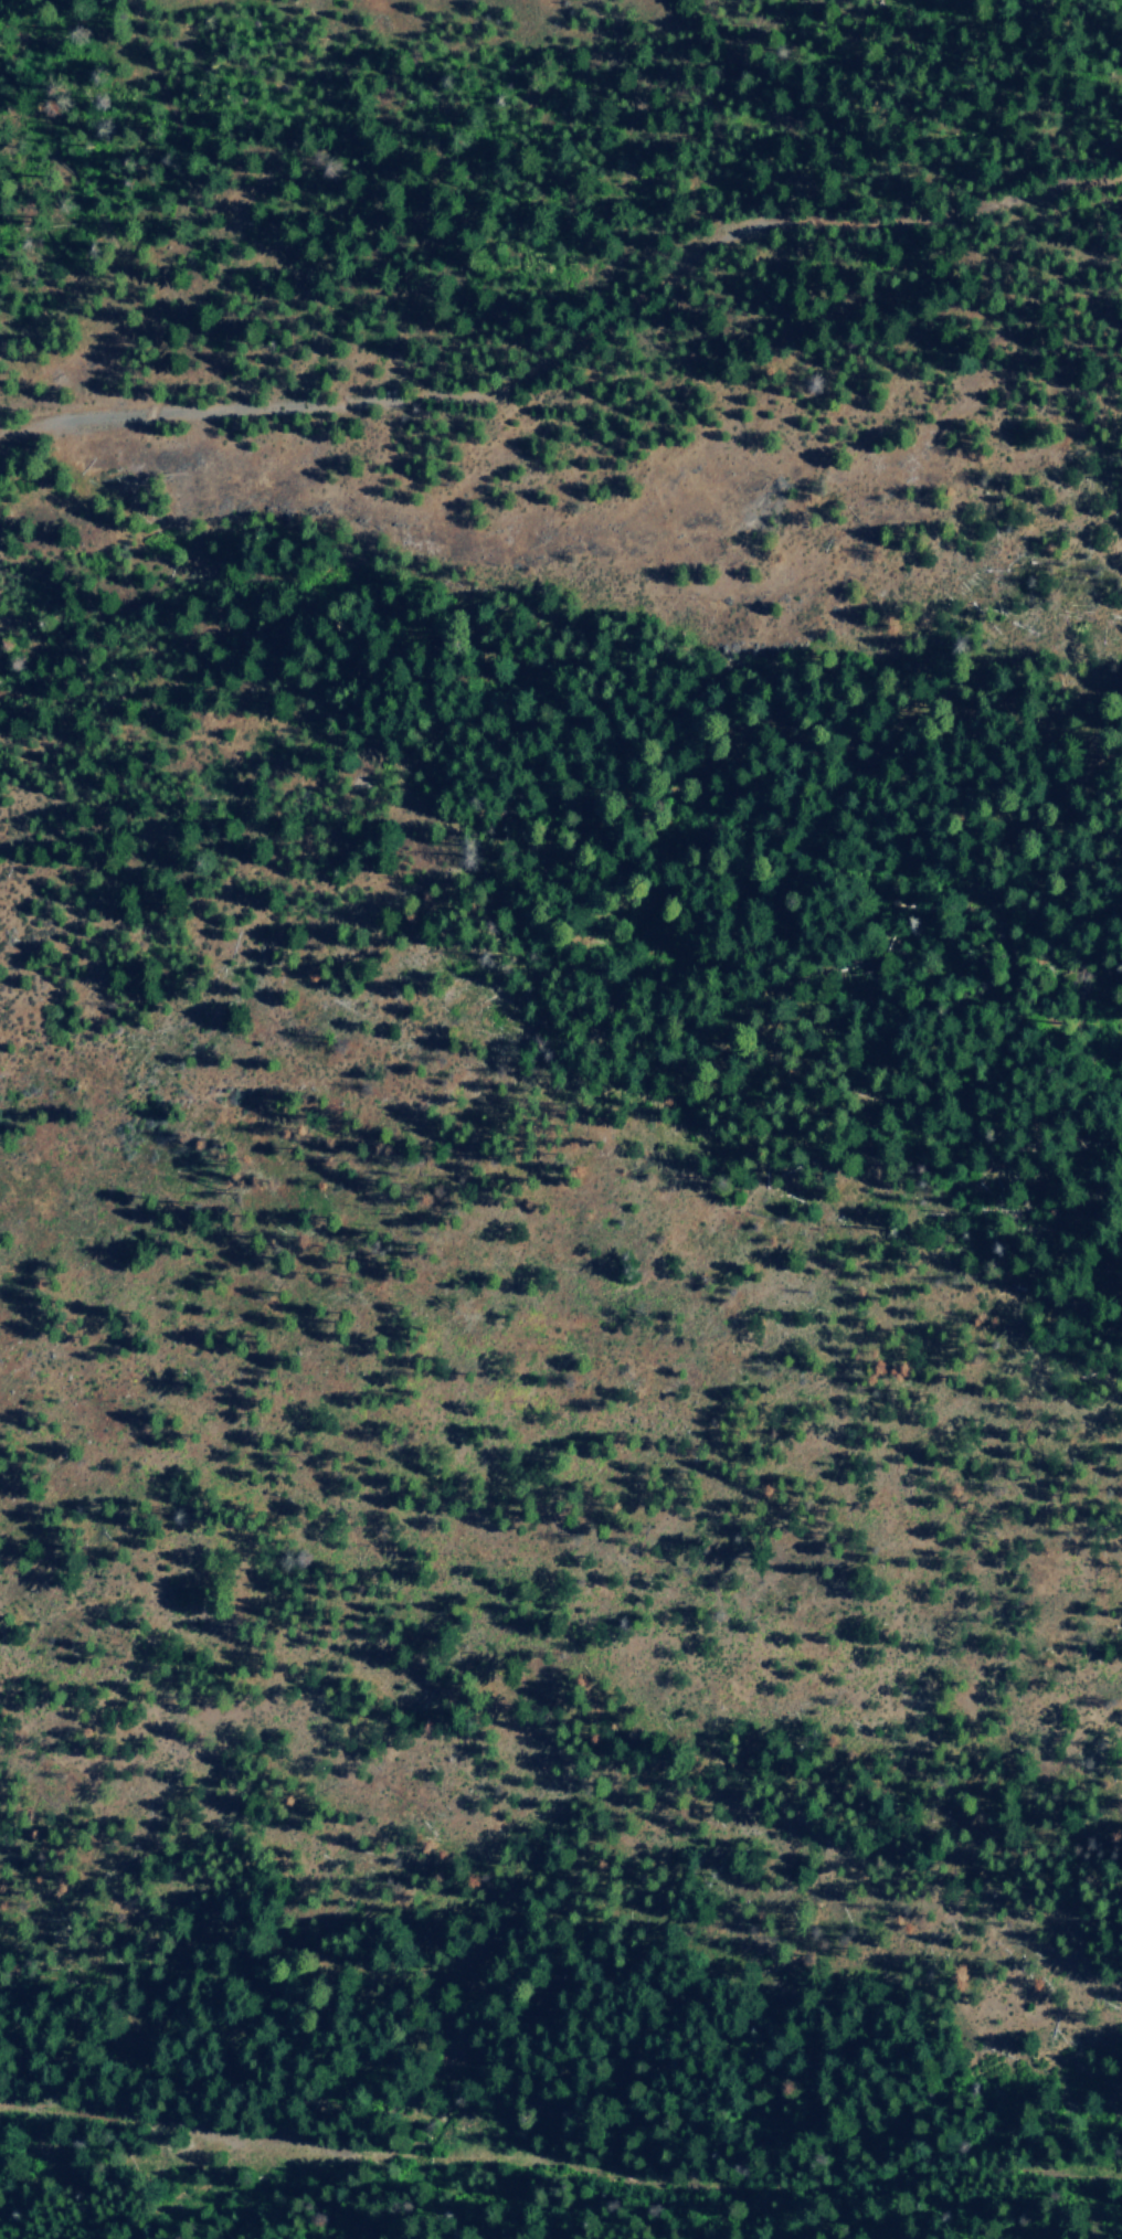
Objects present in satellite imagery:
road: (573, 350)
road: (559, 2163)

